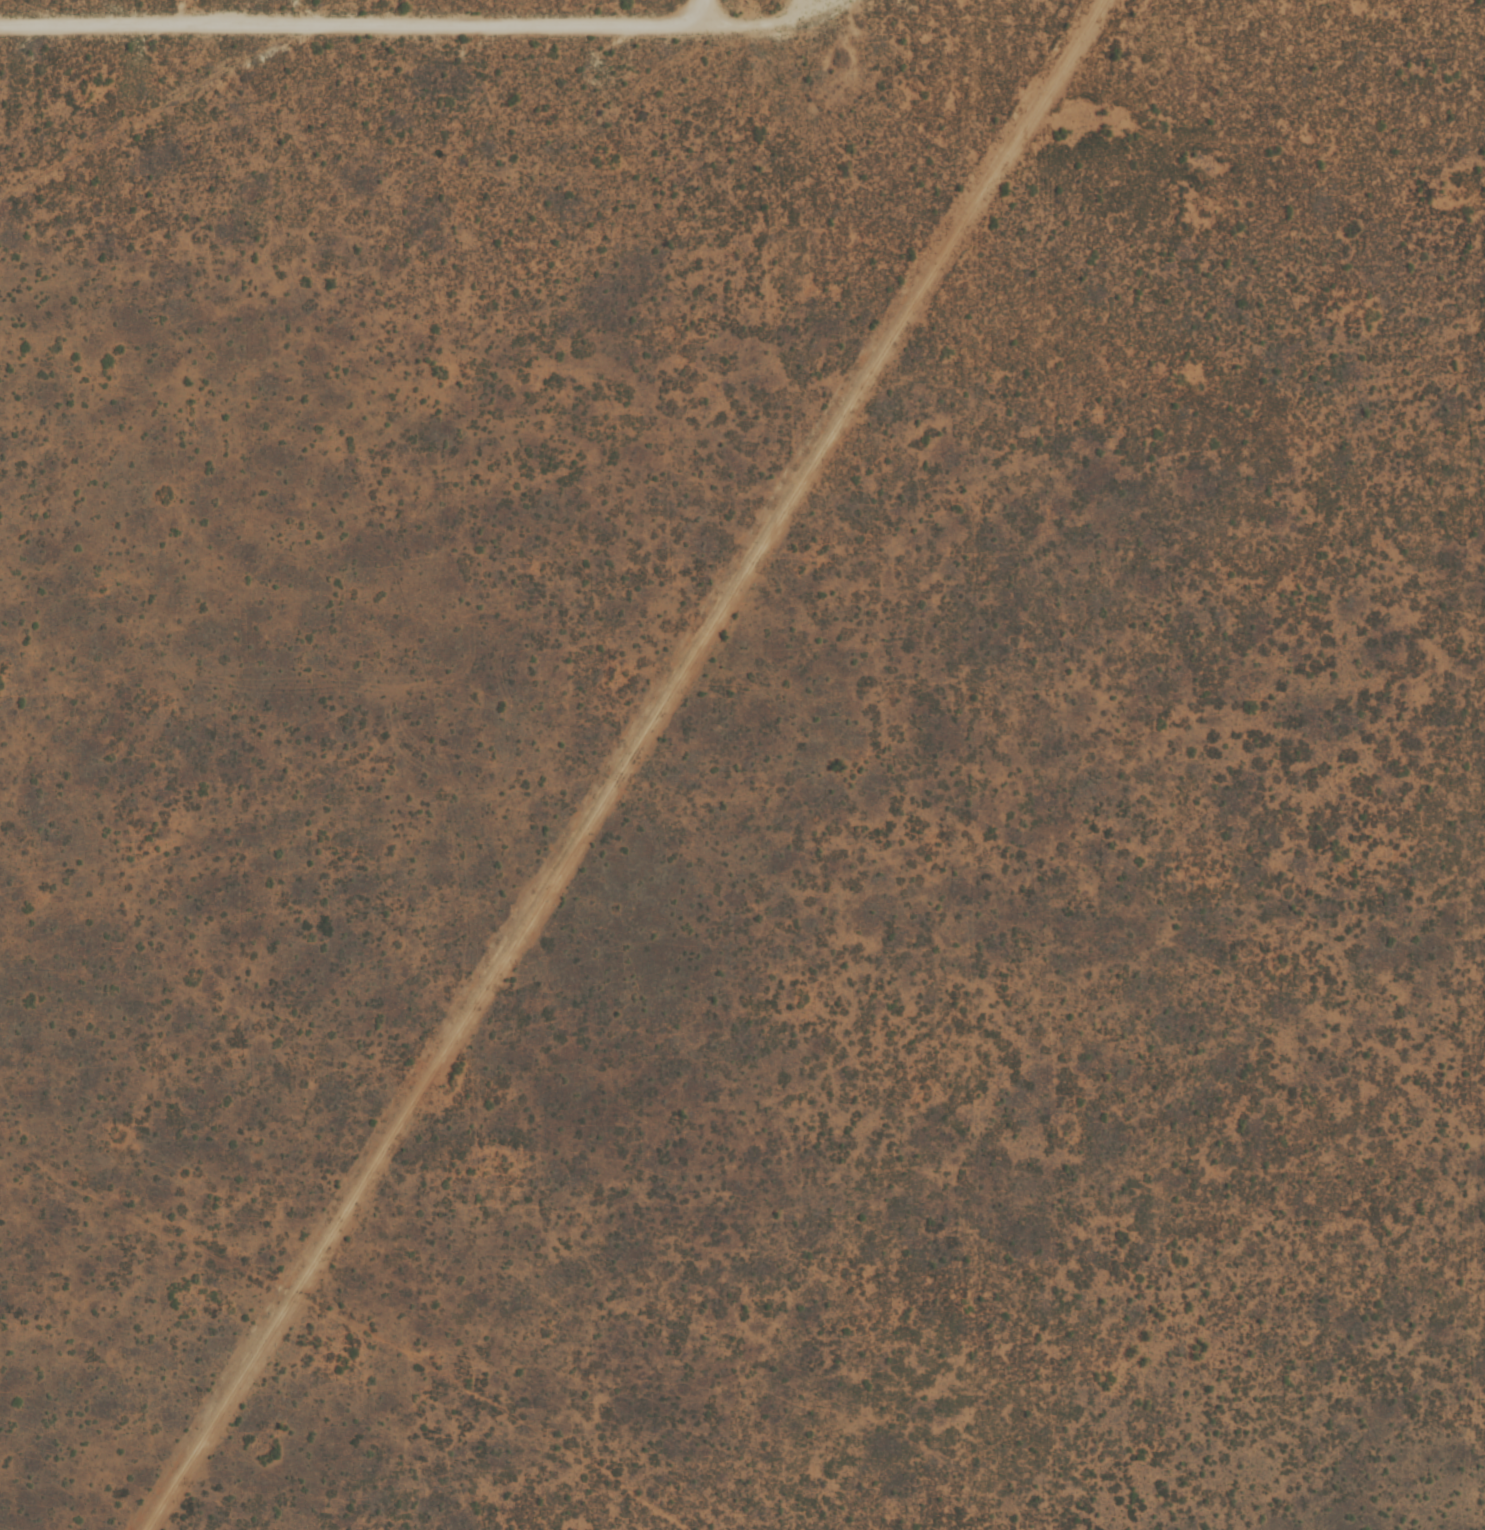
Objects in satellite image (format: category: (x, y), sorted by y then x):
road: (703, 6)
road: (393, 17)
road: (627, 765)

